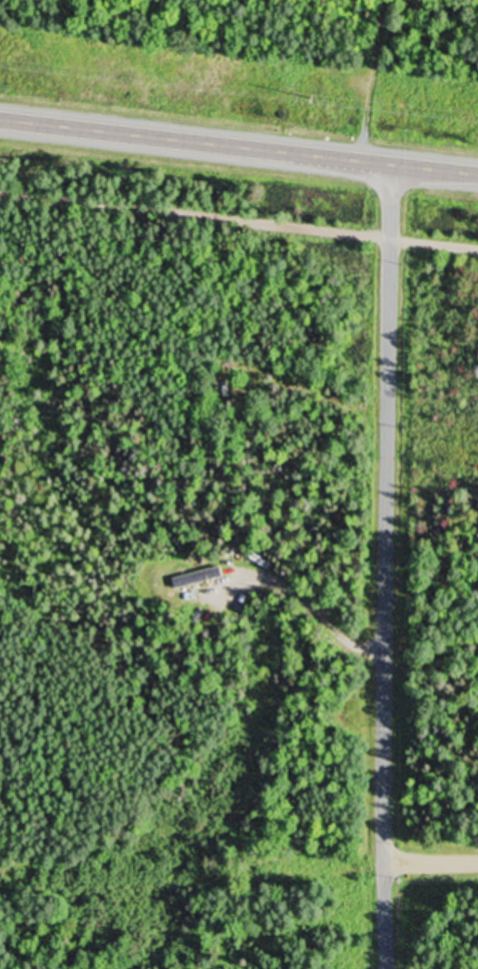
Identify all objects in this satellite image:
road: (375, 77)
power tower: (315, 92)
road: (238, 143)
road: (239, 218)
road: (385, 565)
building: (194, 576)
road: (314, 614)
road: (430, 861)

